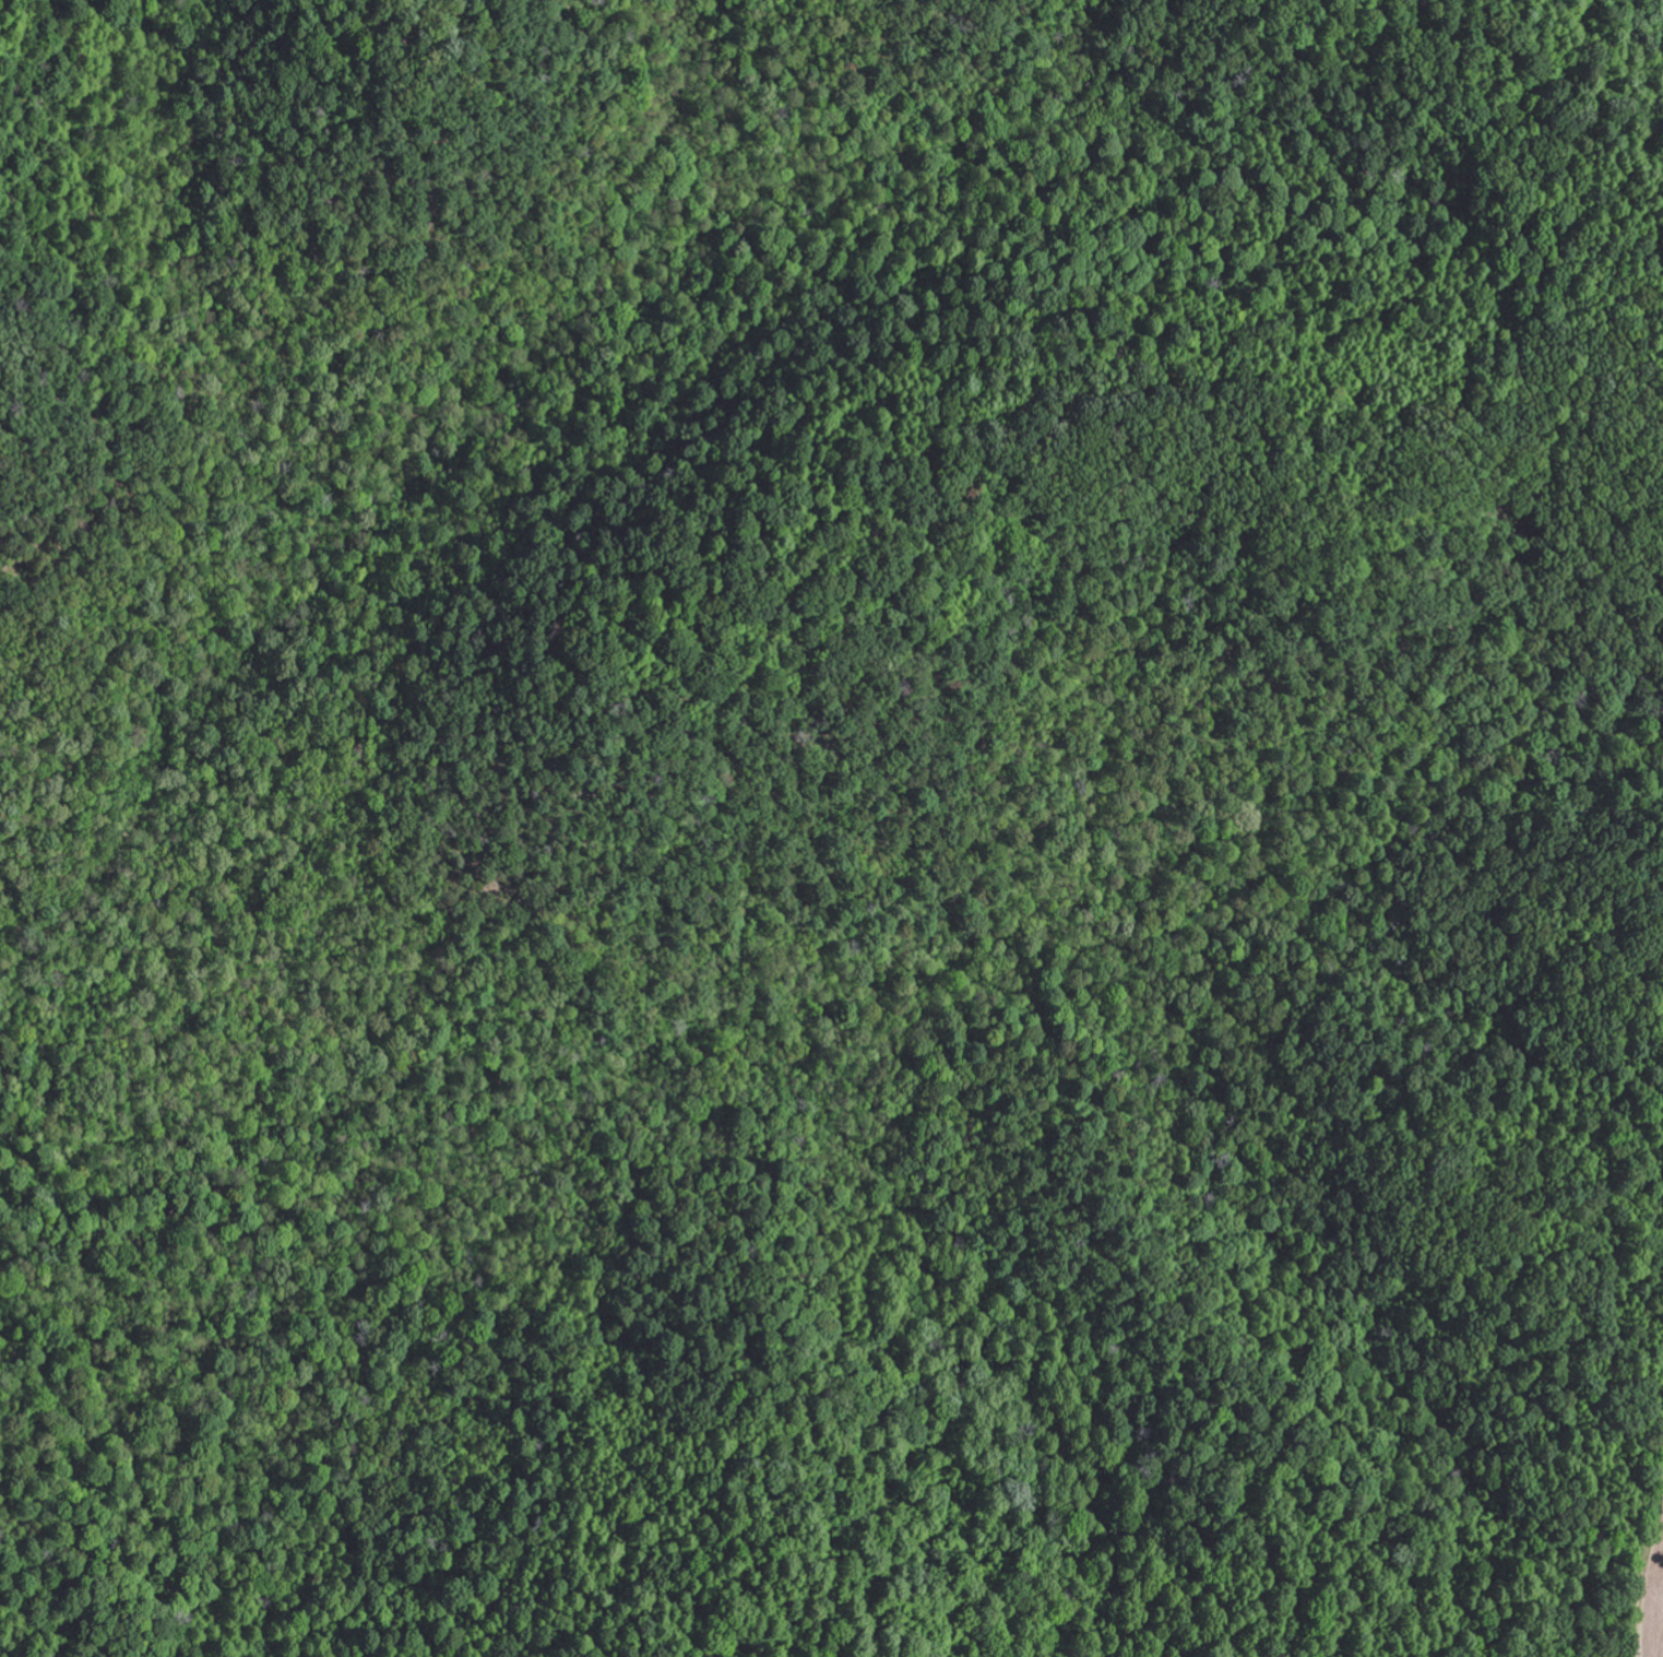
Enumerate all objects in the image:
road: (1652, 1598)

